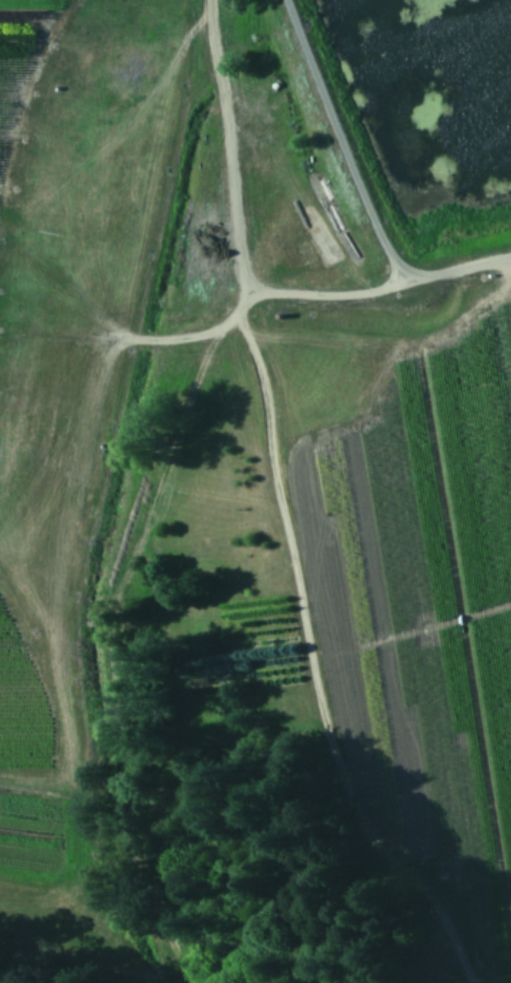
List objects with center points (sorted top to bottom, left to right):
crop: (260, 414)

